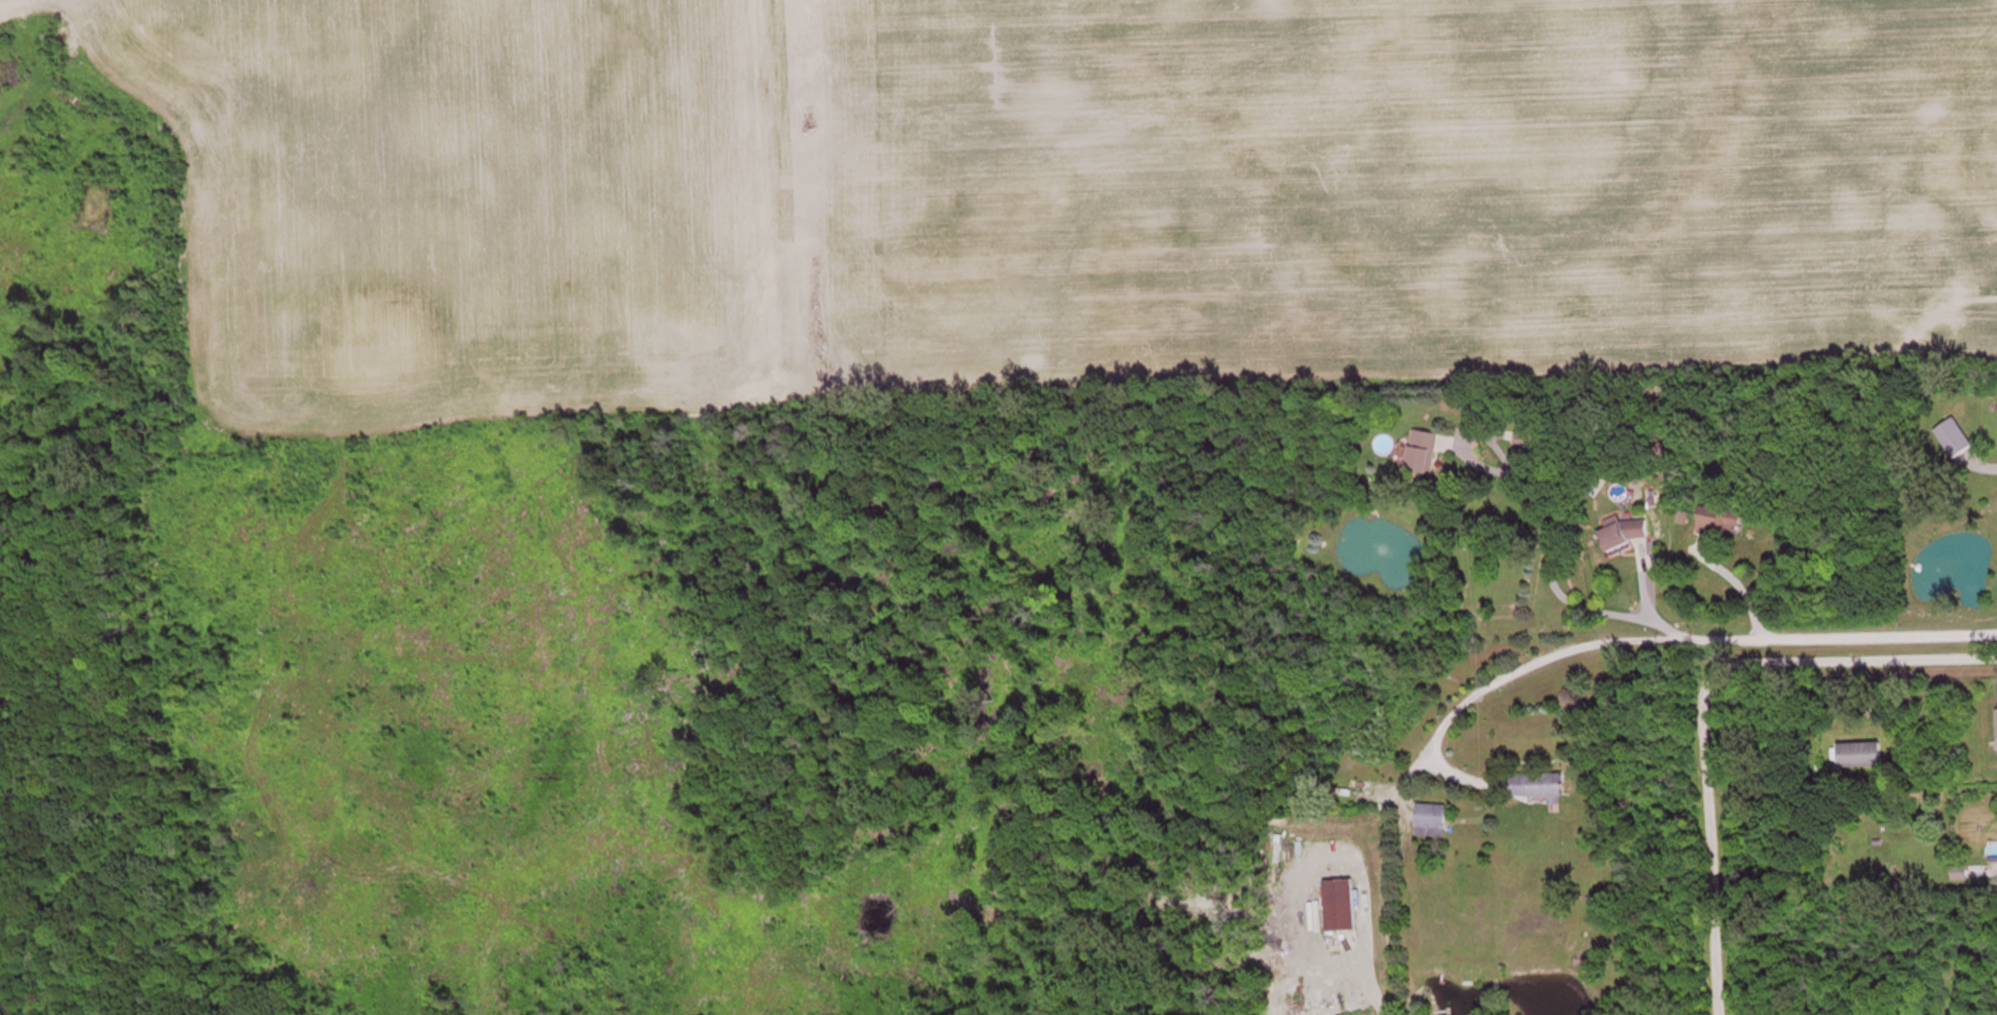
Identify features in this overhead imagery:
building: (1534, 445)
building: (1425, 455)
building: (1723, 525)
building: (1626, 535)
building: (1862, 758)
building: (1540, 789)
building: (1432, 823)
building: (1277, 851)
building: (1342, 908)

